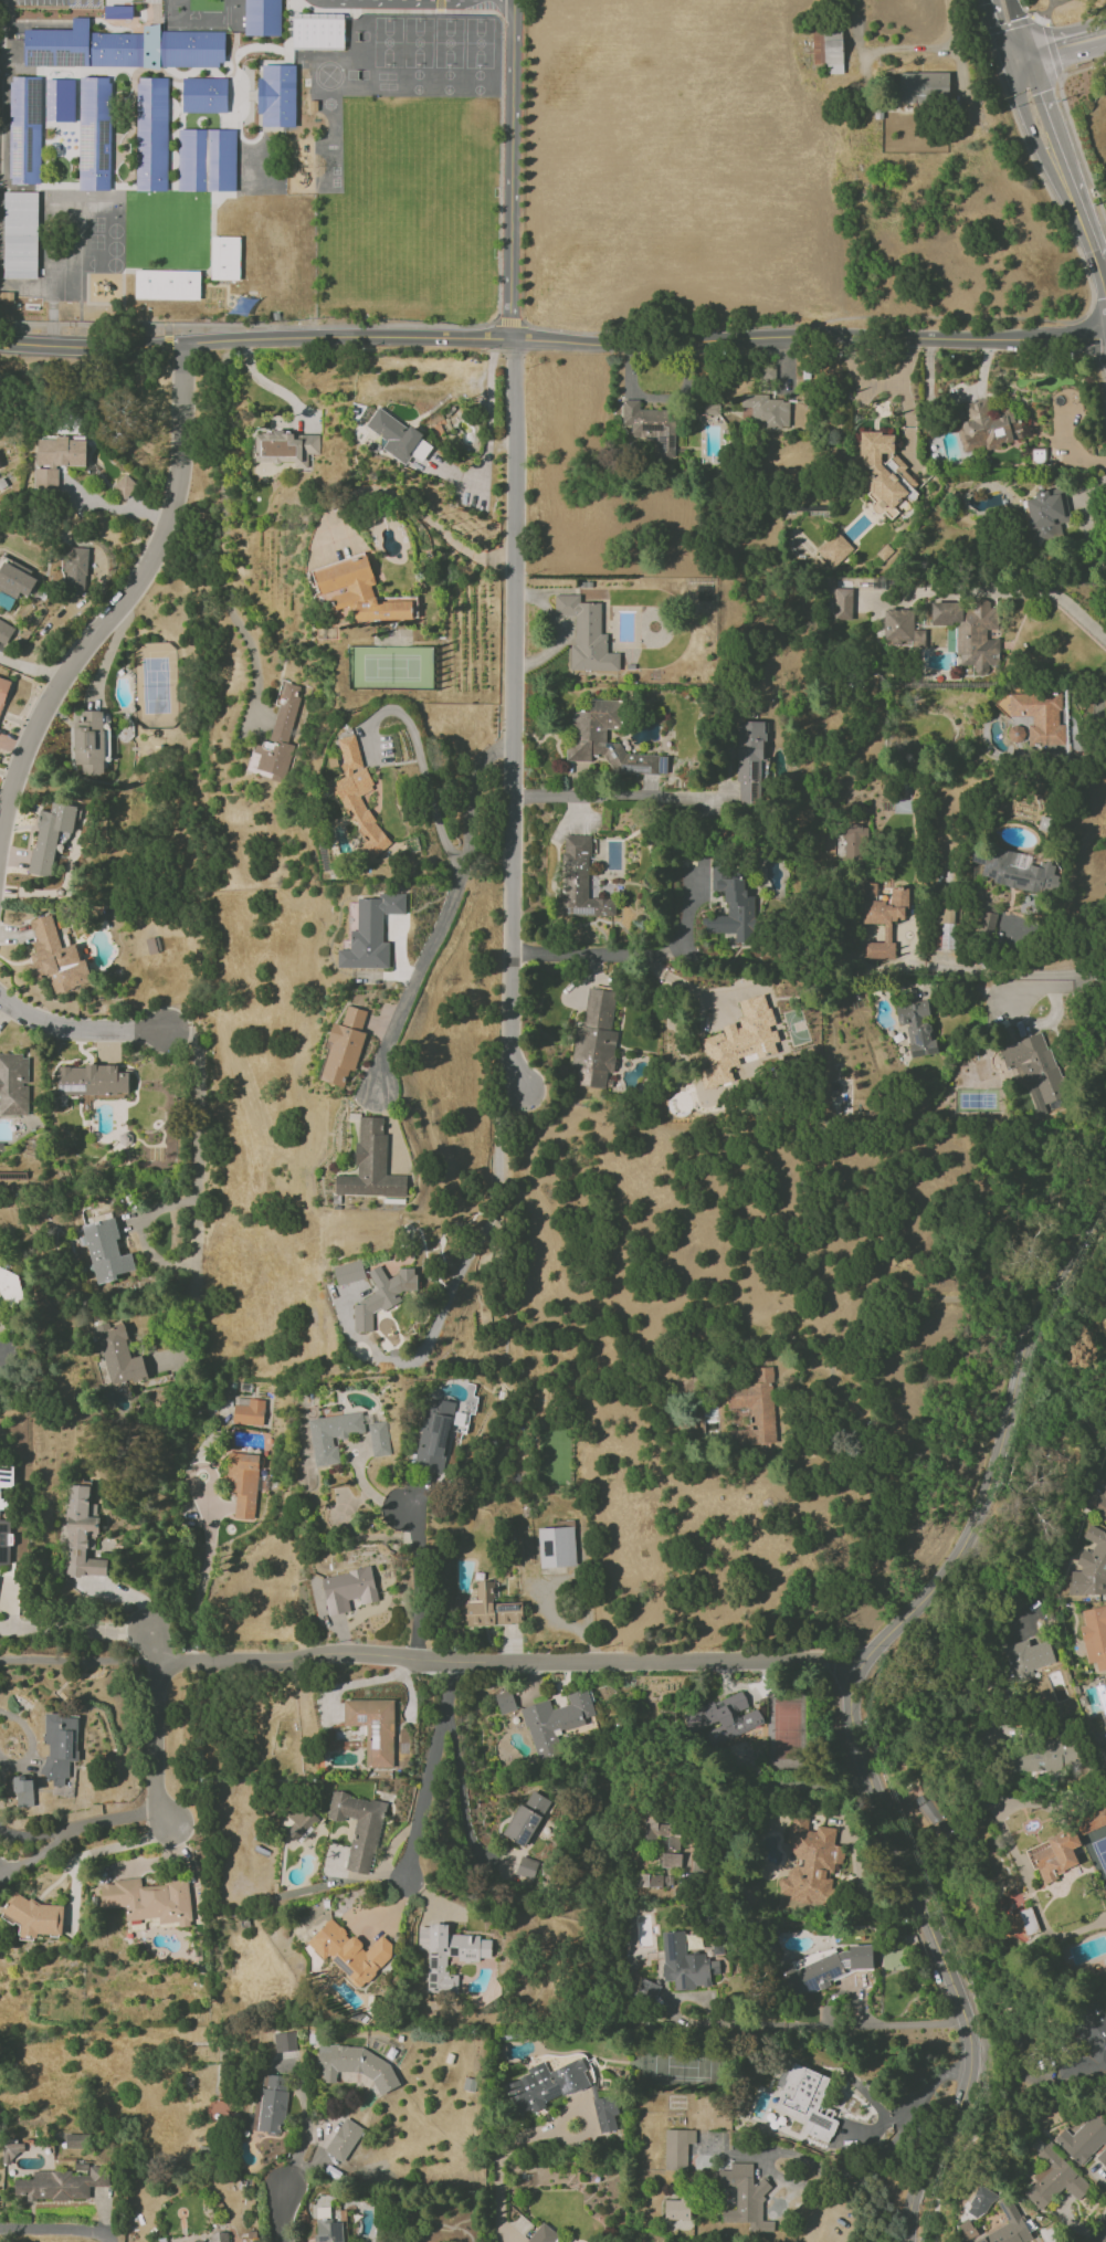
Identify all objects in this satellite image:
road: (396, 0)
road: (512, 0)
road: (515, 0)
road: (1052, 2)
road: (439, 4)
road: (1047, 8)
track: (173, 9)
park: (1067, 9)
building: (118, 12)
road: (980, 15)
road: (1036, 17)
building: (263, 18)
road: (1008, 24)
road: (1011, 28)
building: (317, 31)
park: (357, 35)
road: (1099, 35)
park: (387, 41)
park: (418, 42)
park: (449, 42)
park: (480, 43)
road: (1057, 46)
building: (123, 48)
road: (921, 48)
building: (828, 50)
road: (1051, 50)
traffic signals: (1022, 56)
road: (502, 66)
park: (356, 74)
park: (418, 74)
park: (447, 74)
park: (478, 74)
building: (923, 86)
park: (417, 88)
park: (447, 90)
park: (478, 90)
building: (203, 95)
building: (277, 95)
building: (59, 99)
road: (1046, 125)
road: (1072, 126)
building: (24, 129)
building: (94, 133)
building: (150, 134)
building: (206, 159)
road: (510, 169)
road: (1040, 173)
park: (166, 212)
park: (114, 230)
building: (20, 235)
road: (1092, 236)
park: (114, 248)
building: (224, 257)
park: (81, 263)
park: (114, 264)
park: (54, 276)
building: (167, 284)
road: (508, 320)
road: (803, 320)
road: (259, 324)
road: (552, 340)
road: (167, 344)
road: (875, 382)
road: (270, 386)
building: (767, 411)
building: (986, 425)
building: (652, 427)
building: (393, 434)
road: (488, 434)
building: (286, 448)
building: (56, 459)
building: (884, 473)
building: (124, 485)
road: (118, 508)
road: (419, 509)
building: (1046, 514)
building: (834, 548)
building: (74, 569)
building: (15, 579)
road: (1013, 591)
building: (359, 592)
building: (842, 603)
road: (118, 609)
road: (234, 619)
building: (902, 629)
building: (4, 631)
building: (971, 631)
building: (586, 634)
road: (33, 671)
building: (3, 690)
building: (1041, 716)
road: (513, 717)
building: (588, 735)
building: (88, 740)
road: (421, 755)
building: (749, 761)
road: (609, 794)
building: (358, 796)
building: (50, 835)
building: (854, 841)
building: (1015, 870)
building: (579, 880)
building: (734, 909)
road: (446, 915)
building: (882, 917)
building: (987, 922)
building: (946, 927)
building: (371, 933)
road: (632, 954)
building: (56, 957)
road: (1012, 972)
road: (2, 1009)
building: (917, 1027)
road: (80, 1031)
building: (596, 1038)
building: (738, 1041)
building: (344, 1046)
building: (1036, 1070)
building: (92, 1080)
building: (13, 1084)
building: (371, 1165)
road: (196, 1187)
building: (105, 1251)
building: (349, 1272)
road: (464, 1272)
building: (9, 1286)
building: (382, 1295)
road: (905, 1303)
building: (754, 1408)
building: (249, 1412)
building: (333, 1434)
building: (433, 1434)
building: (379, 1439)
road: (201, 1464)
building: (6, 1475)
building: (243, 1486)
building: (2, 1503)
building: (81, 1534)
building: (4, 1541)
building: (557, 1547)
building: (1091, 1566)
road: (203, 1576)
road: (419, 1579)
building: (348, 1589)
road: (120, 1592)
building: (489, 1608)
road: (75, 1632)
building: (1095, 1635)
road: (154, 1648)
building: (1028, 1656)
road: (69, 1660)
road: (508, 1662)
building: (505, 1702)
road: (856, 1711)
building: (555, 1720)
building: (724, 1722)
building: (373, 1728)
road: (32, 1741)
road: (158, 1745)
building: (60, 1746)
building: (1043, 1757)
road: (430, 1770)
building: (23, 1791)
road: (461, 1794)
building: (933, 1814)
road: (844, 1815)
building: (526, 1818)
building: (1091, 1819)
building: (299, 1822)
road: (81, 1828)
building: (359, 1828)
building: (662, 1832)
building: (1056, 1854)
building: (671, 1860)
building: (810, 1862)
building: (526, 1867)
building: (649, 1880)
building: (150, 1899)
building: (1017, 1916)
building: (35, 1917)
building: (350, 1951)
building: (447, 1954)
building: (685, 1964)
building: (824, 1968)
building: (649, 1990)
road: (824, 2024)
building: (284, 2041)
building: (358, 2064)
road: (1035, 2080)
building: (545, 2085)
building: (808, 2102)
building: (271, 2103)
road: (916, 2103)
building: (605, 2113)
road: (587, 2119)
road: (306, 2128)
building: (344, 2139)
building: (1083, 2139)
building: (75, 2140)
building: (677, 2148)
building: (11, 2151)
building: (1102, 2157)
road: (501, 2165)
building: (1053, 2177)
building: (61, 2183)
building: (745, 2198)
building: (980, 2202)
building: (676, 2209)
road: (282, 2217)
building: (1008, 2225)
building: (329, 2230)
building: (967, 2230)
road: (56, 2232)
building: (544, 2234)
road: (1102, 2235)
building: (219, 2236)

